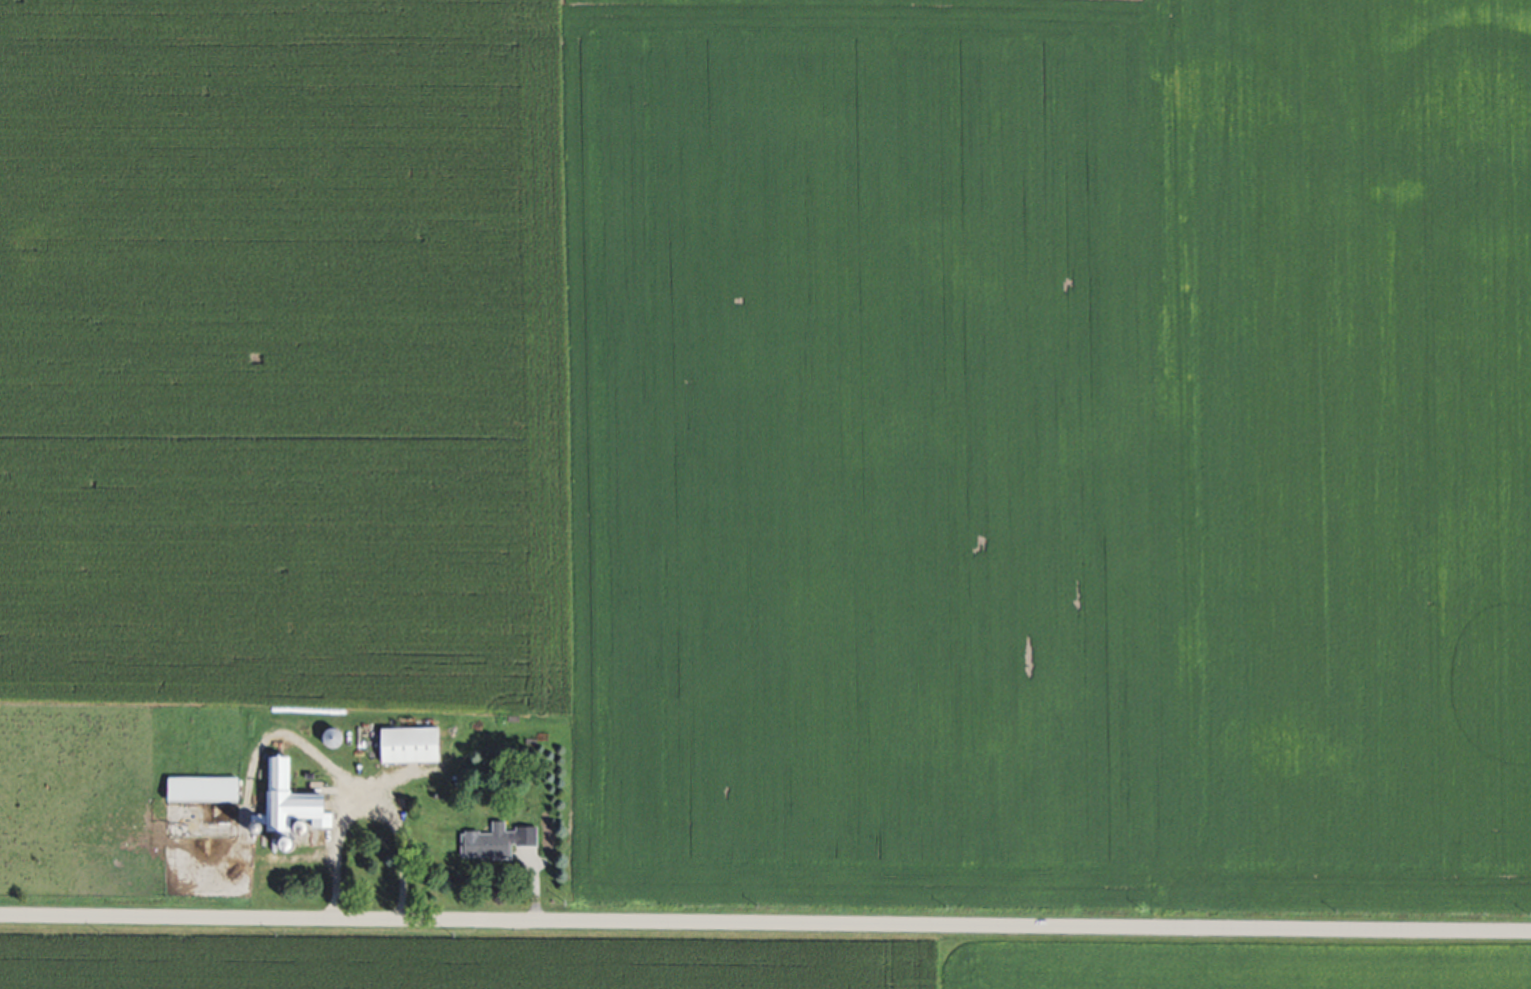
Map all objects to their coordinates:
building: (337, 738)
building: (415, 745)
building: (207, 790)
building: (294, 804)
building: (501, 840)
road: (765, 933)

